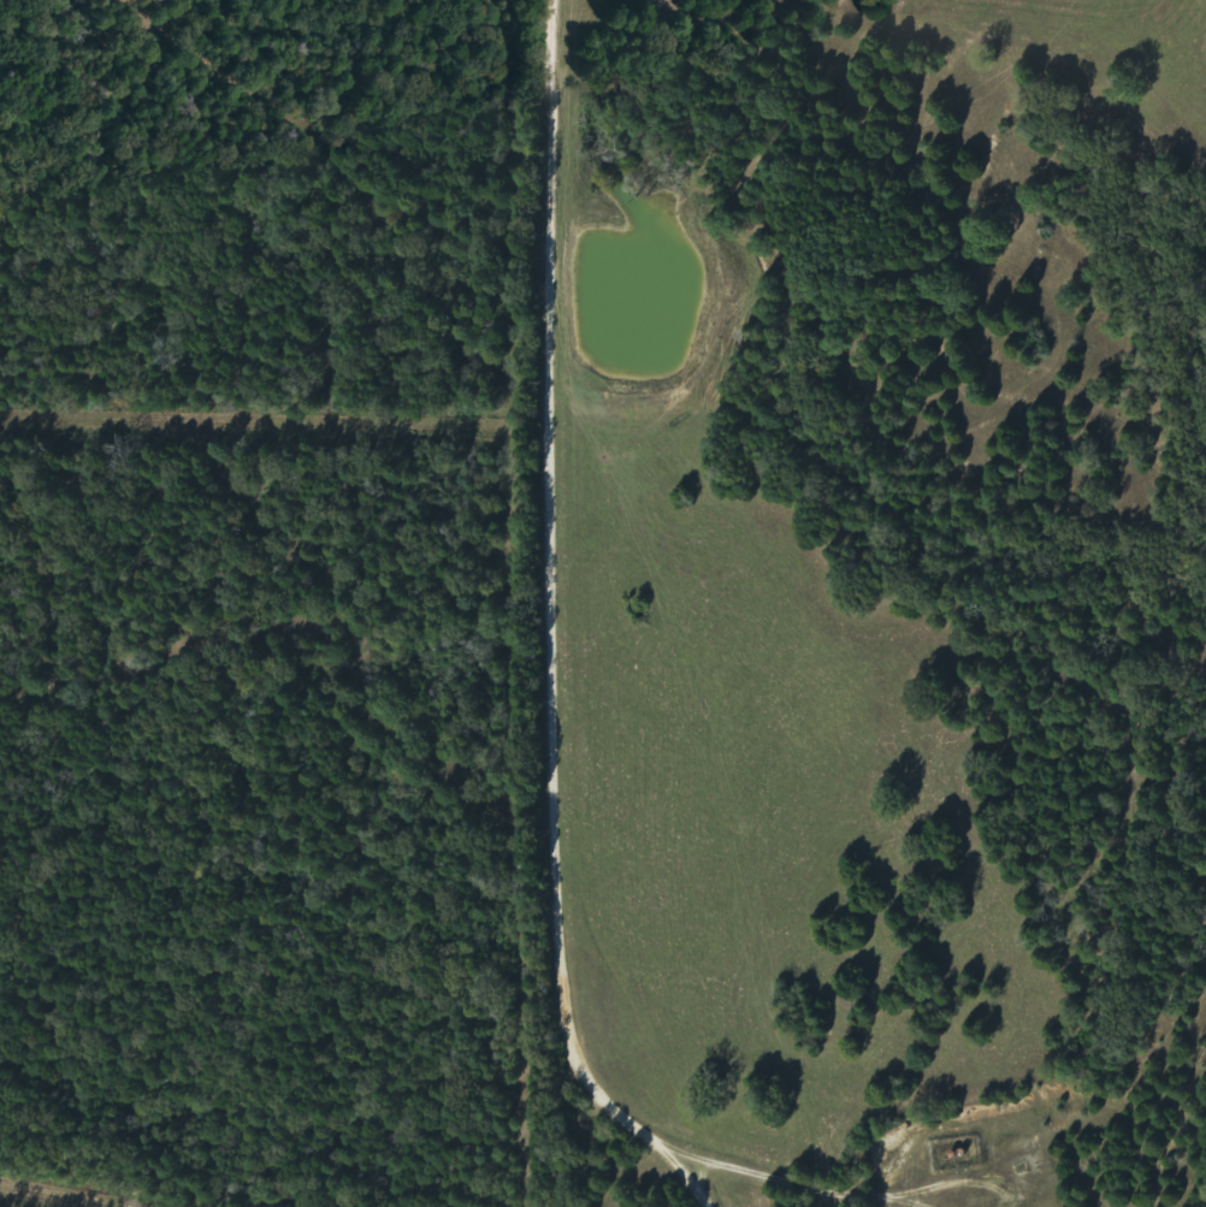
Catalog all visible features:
road: (566, 655)

